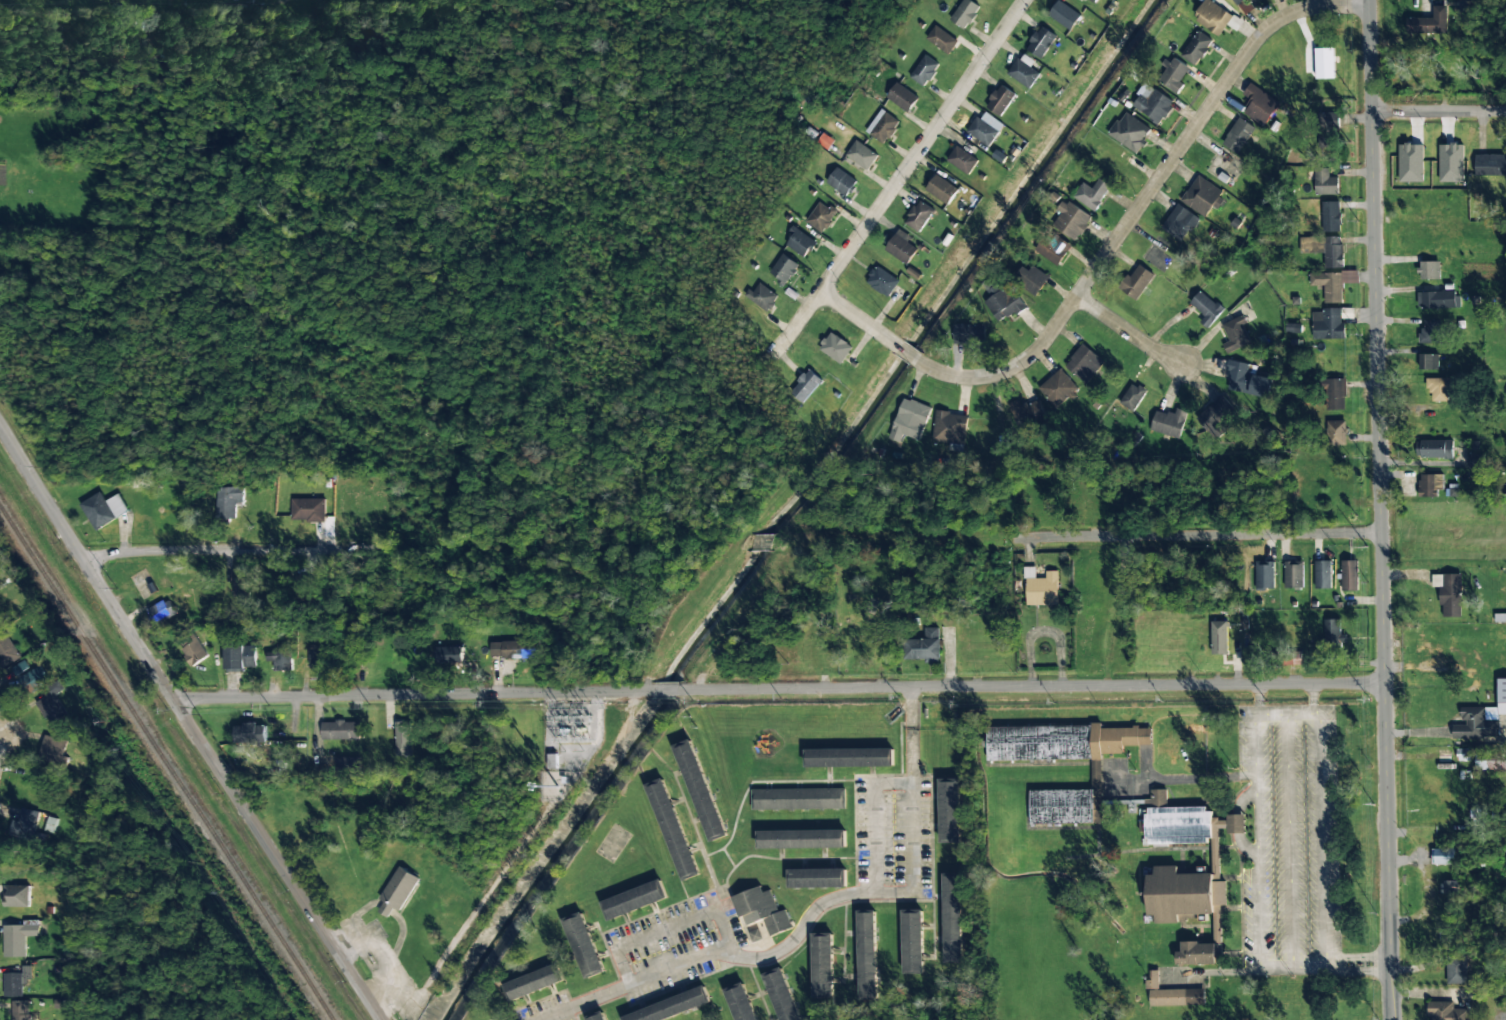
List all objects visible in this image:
building: (1096, 0)
building: (1238, 1)
building: (965, 13)
building: (1064, 15)
building: (1212, 17)
building: (1428, 23)
building: (942, 40)
building: (1041, 42)
building: (1196, 48)
building: (1325, 63)
building: (924, 70)
building: (1023, 71)
building: (1173, 76)
building: (901, 97)
building: (1000, 100)
building: (1259, 105)
road: (1438, 112)
building: (882, 126)
building: (1329, 128)
building: (985, 129)
building: (1130, 132)
building: (1238, 135)
building: (861, 155)
building: (962, 160)
building: (1410, 163)
building: (1451, 163)
building: (1490, 165)
road: (898, 179)
building: (841, 182)
building: (1325, 182)
building: (941, 190)
building: (1092, 194)
building: (1202, 196)
building: (918, 216)
building: (1331, 216)
building: (821, 217)
building: (1070, 221)
building: (1179, 223)
building: (800, 243)
building: (901, 247)
building: (1053, 250)
road: (1109, 250)
building: (1333, 252)
building: (783, 269)
building: (1429, 270)
building: (1032, 280)
building: (882, 281)
building: (1137, 282)
building: (1333, 284)
building: (761, 297)
building: (1436, 300)
building: (1005, 304)
building: (1206, 308)
building: (1330, 323)
building: (1430, 332)
building: (970, 334)
road: (1130, 334)
building: (1235, 334)
building: (835, 348)
building: (1428, 362)
building: (1084, 364)
building: (1243, 379)
building: (804, 386)
building: (1439, 388)
building: (1058, 389)
building: (1334, 394)
building: (1132, 397)
building: (1028, 412)
building: (1215, 417)
building: (910, 421)
building: (1168, 423)
building: (950, 428)
building: (1337, 433)
building: (1436, 449)
building: (1476, 461)
building: (1430, 485)
building: (226, 502)
building: (102, 509)
road: (1381, 509)
building: (308, 510)
road: (733, 545)
building: (1322, 574)
building: (1264, 575)
building: (1293, 575)
building: (1349, 576)
building: (241, 588)
building: (1449, 594)
building: (162, 612)
building: (1335, 632)
building: (1219, 638)
building: (924, 647)
building: (6, 649)
building: (512, 649)
building: (194, 652)
building: (448, 655)
building: (240, 657)
building: (318, 659)
building: (280, 660)
building: (35, 680)
road: (779, 689)
building: (1501, 696)
building: (51, 707)
building: (1475, 724)
road: (190, 725)
building: (340, 730)
power substation: (571, 733)
building: (250, 734)
building: (403, 738)
building: (53, 752)
building: (849, 758)
building: (1491, 761)
railway: (166, 763)
building: (347, 765)
building: (1096, 775)
building: (700, 790)
building: (799, 799)
building: (950, 810)
building: (1175, 822)
building: (1231, 824)
building: (28, 825)
building: (672, 829)
building: (802, 839)
building: (1444, 856)
building: (817, 878)
building: (1451, 887)
building: (397, 891)
building: (16, 896)
building: (1185, 896)
building: (634, 900)
building: (761, 911)
road: (810, 914)
building: (952, 919)
building: (755, 936)
building: (19, 938)
building: (912, 940)
building: (584, 945)
building: (1199, 954)
building: (867, 956)
building: (822, 964)
building: (1456, 970)
building: (534, 983)
building: (13, 985)
building: (1173, 994)
building: (781, 995)
building: (740, 1002)
building: (672, 1007)
building: (20, 1011)
building: (1445, 1011)
building: (599, 1016)

